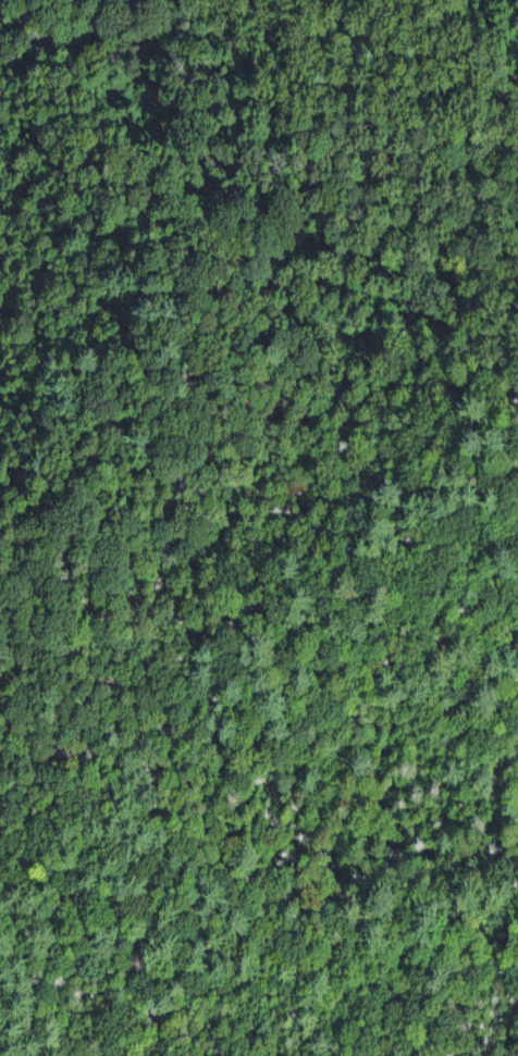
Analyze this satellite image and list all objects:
road: (429, 99)

